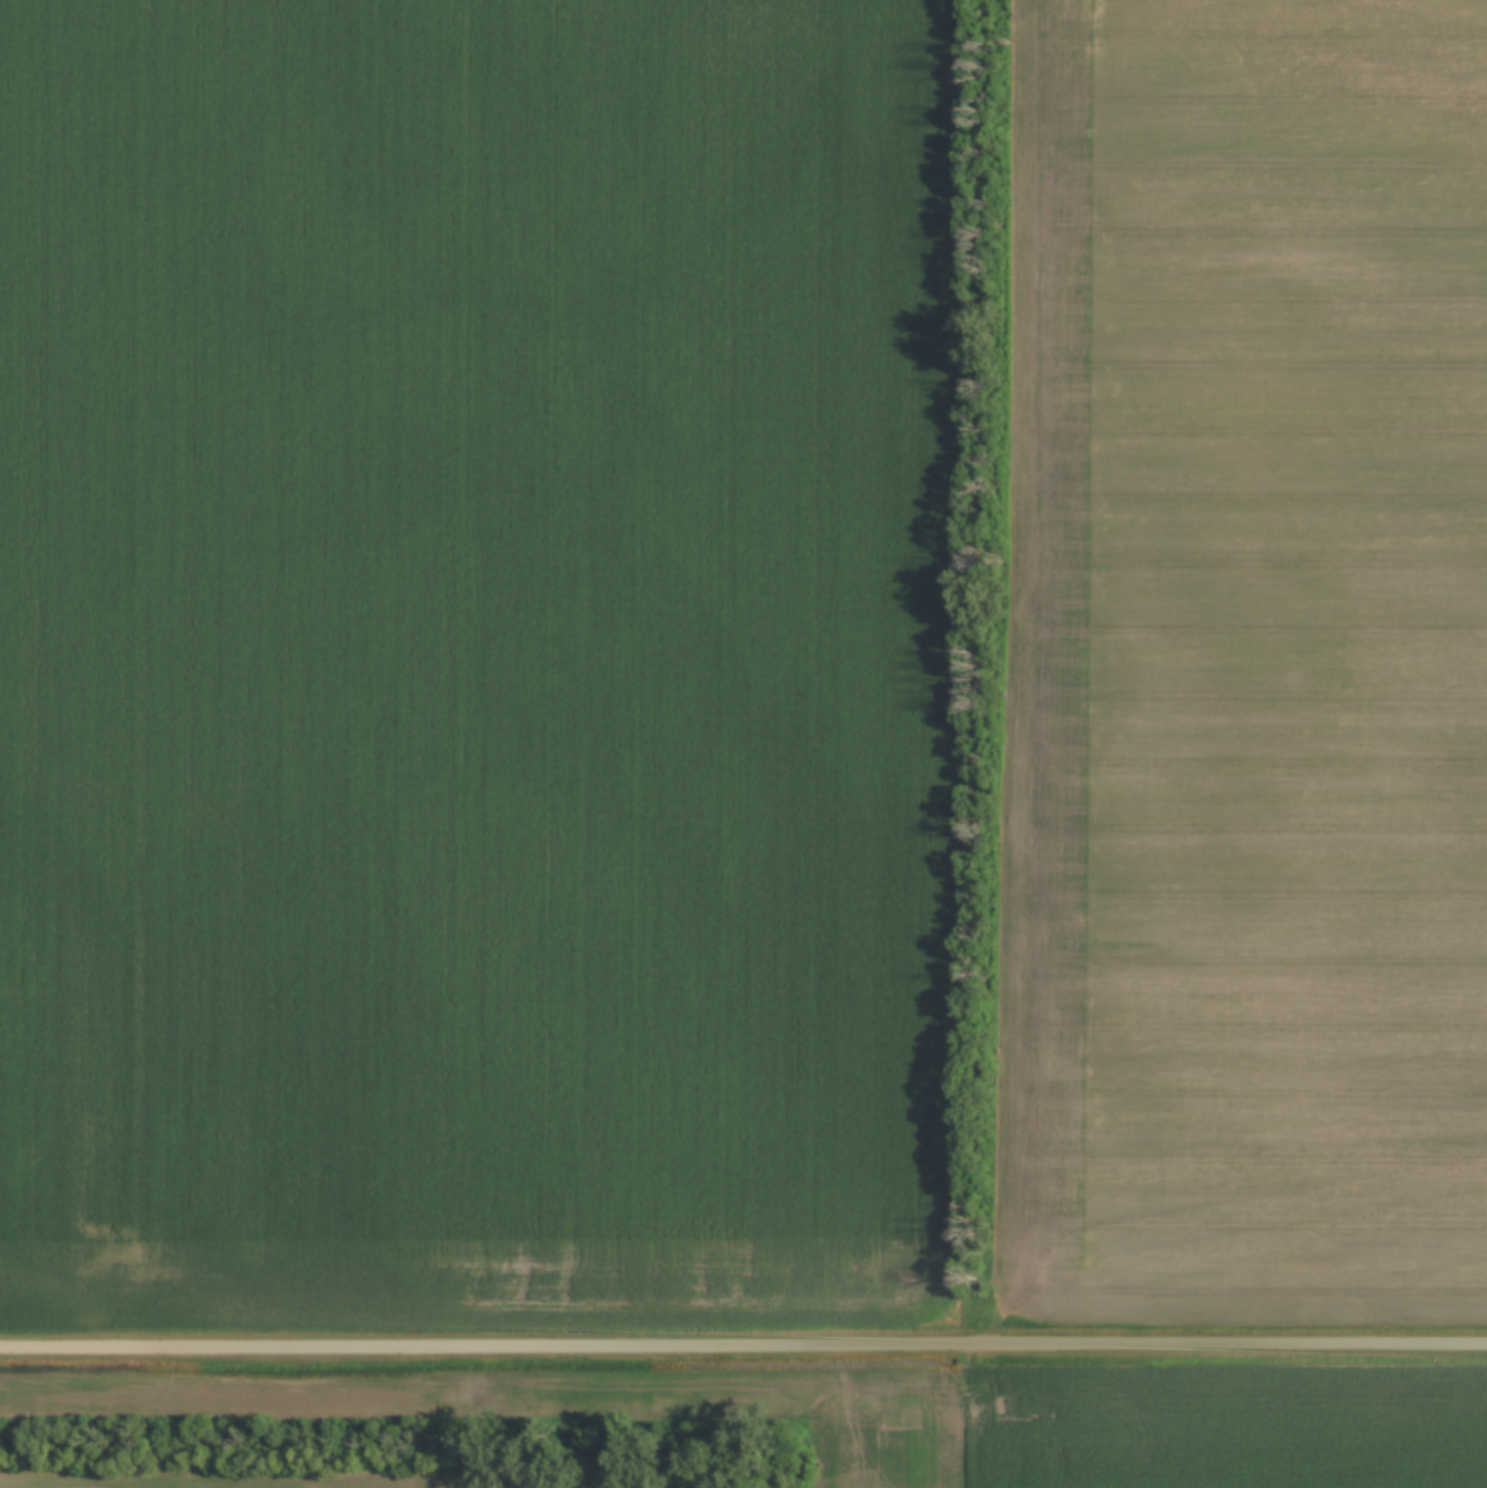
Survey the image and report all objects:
road: (743, 1345)

